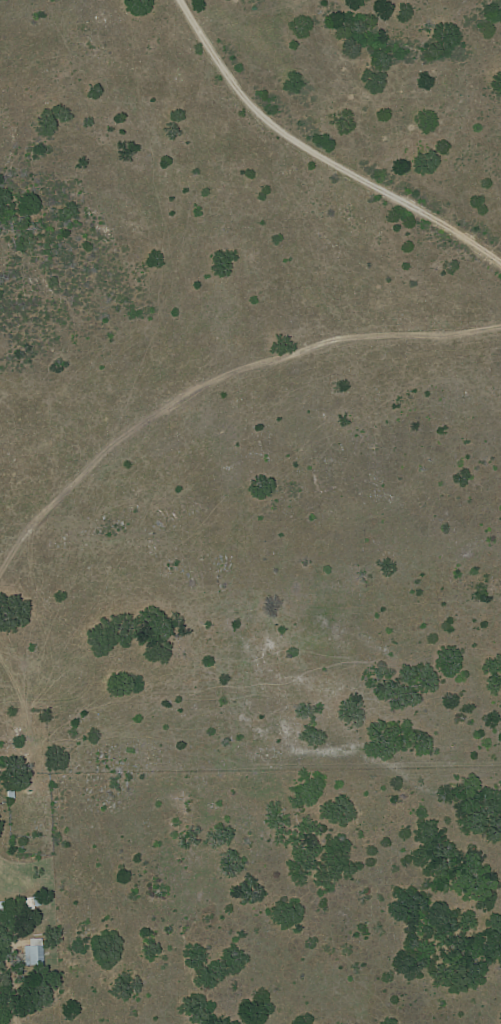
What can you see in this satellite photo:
road: (320, 151)
building: (3, 916)
building: (33, 953)

